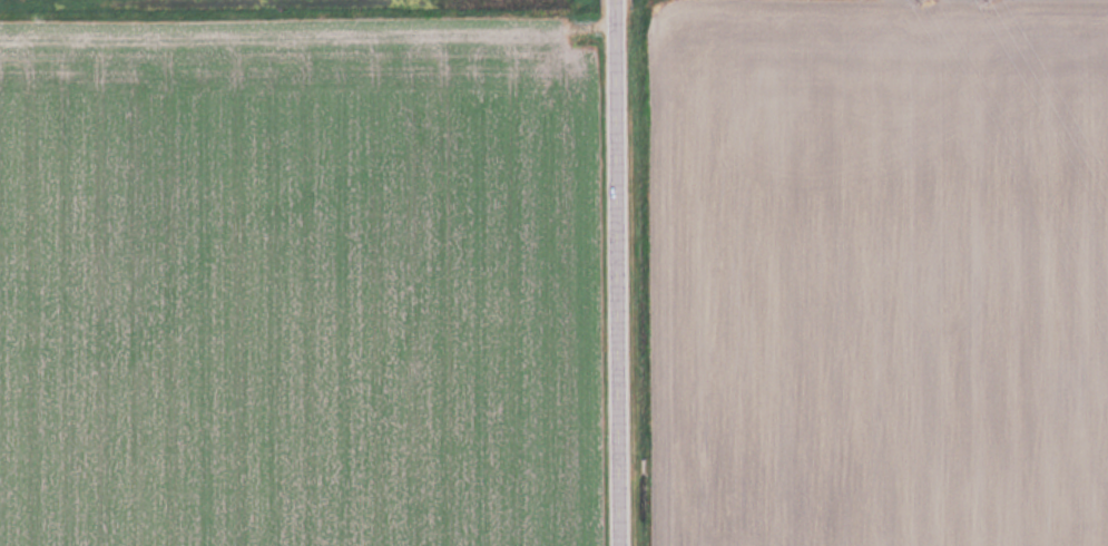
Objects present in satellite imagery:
power tower: (925, 1)
road: (628, 272)

